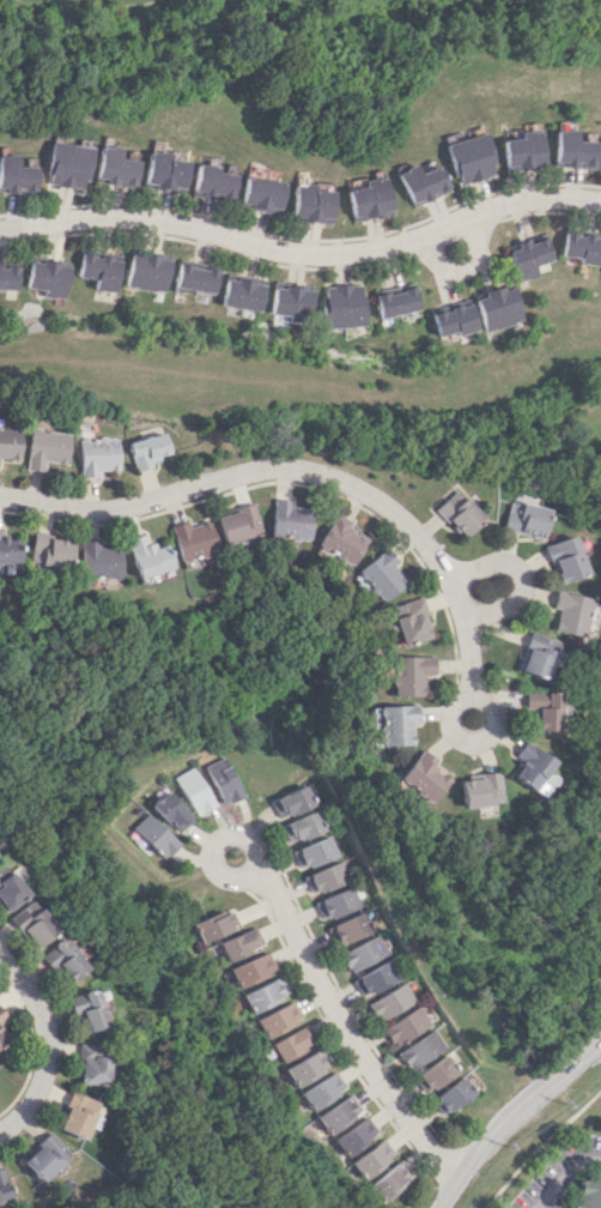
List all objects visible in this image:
building: (571, 150)
building: (522, 151)
building: (468, 158)
building: (67, 164)
building: (115, 167)
building: (165, 171)
building: (16, 175)
building: (211, 182)
building: (419, 182)
building: (260, 193)
building: (368, 199)
building: (311, 204)
building: (582, 247)
road: (302, 249)
building: (529, 256)
road: (462, 266)
building: (102, 270)
building: (150, 271)
building: (10, 277)
building: (50, 277)
building: (198, 278)
building: (244, 292)
building: (293, 300)
building: (397, 300)
building: (500, 307)
building: (456, 318)
building: (10, 442)
building: (45, 448)
building: (147, 449)
building: (97, 454)
road: (300, 470)
building: (460, 513)
building: (524, 519)
building: (290, 520)
building: (237, 523)
building: (192, 539)
building: (341, 540)
building: (8, 550)
building: (48, 551)
building: (145, 556)
building: (563, 558)
building: (96, 560)
building: (380, 575)
road: (520, 575)
building: (566, 612)
building: (409, 621)
building: (535, 654)
building: (408, 674)
building: (542, 709)
building: (394, 724)
road: (466, 737)
building: (527, 765)
building: (421, 777)
building: (224, 780)
building: (476, 789)
building: (196, 790)
building: (291, 802)
building: (176, 811)
building: (300, 826)
building: (159, 835)
building: (312, 852)
building: (322, 877)
building: (11, 892)
building: (334, 902)
building: (35, 924)
building: (218, 924)
building: (346, 928)
building: (242, 943)
building: (362, 953)
building: (65, 960)
building: (254, 968)
road: (312, 972)
building: (372, 978)
building: (266, 993)
building: (389, 1001)
building: (87, 1008)
building: (2, 1016)
building: (279, 1017)
building: (405, 1026)
building: (1, 1039)
road: (44, 1043)
building: (291, 1043)
building: (423, 1047)
building: (89, 1064)
building: (308, 1067)
building: (436, 1073)
building: (323, 1089)
building: (451, 1095)
building: (339, 1113)
road: (510, 1113)
building: (75, 1115)
building: (354, 1135)
building: (42, 1156)
building: (370, 1158)
road: (565, 1173)
building: (389, 1180)
building: (2, 1189)
building: (588, 1194)

